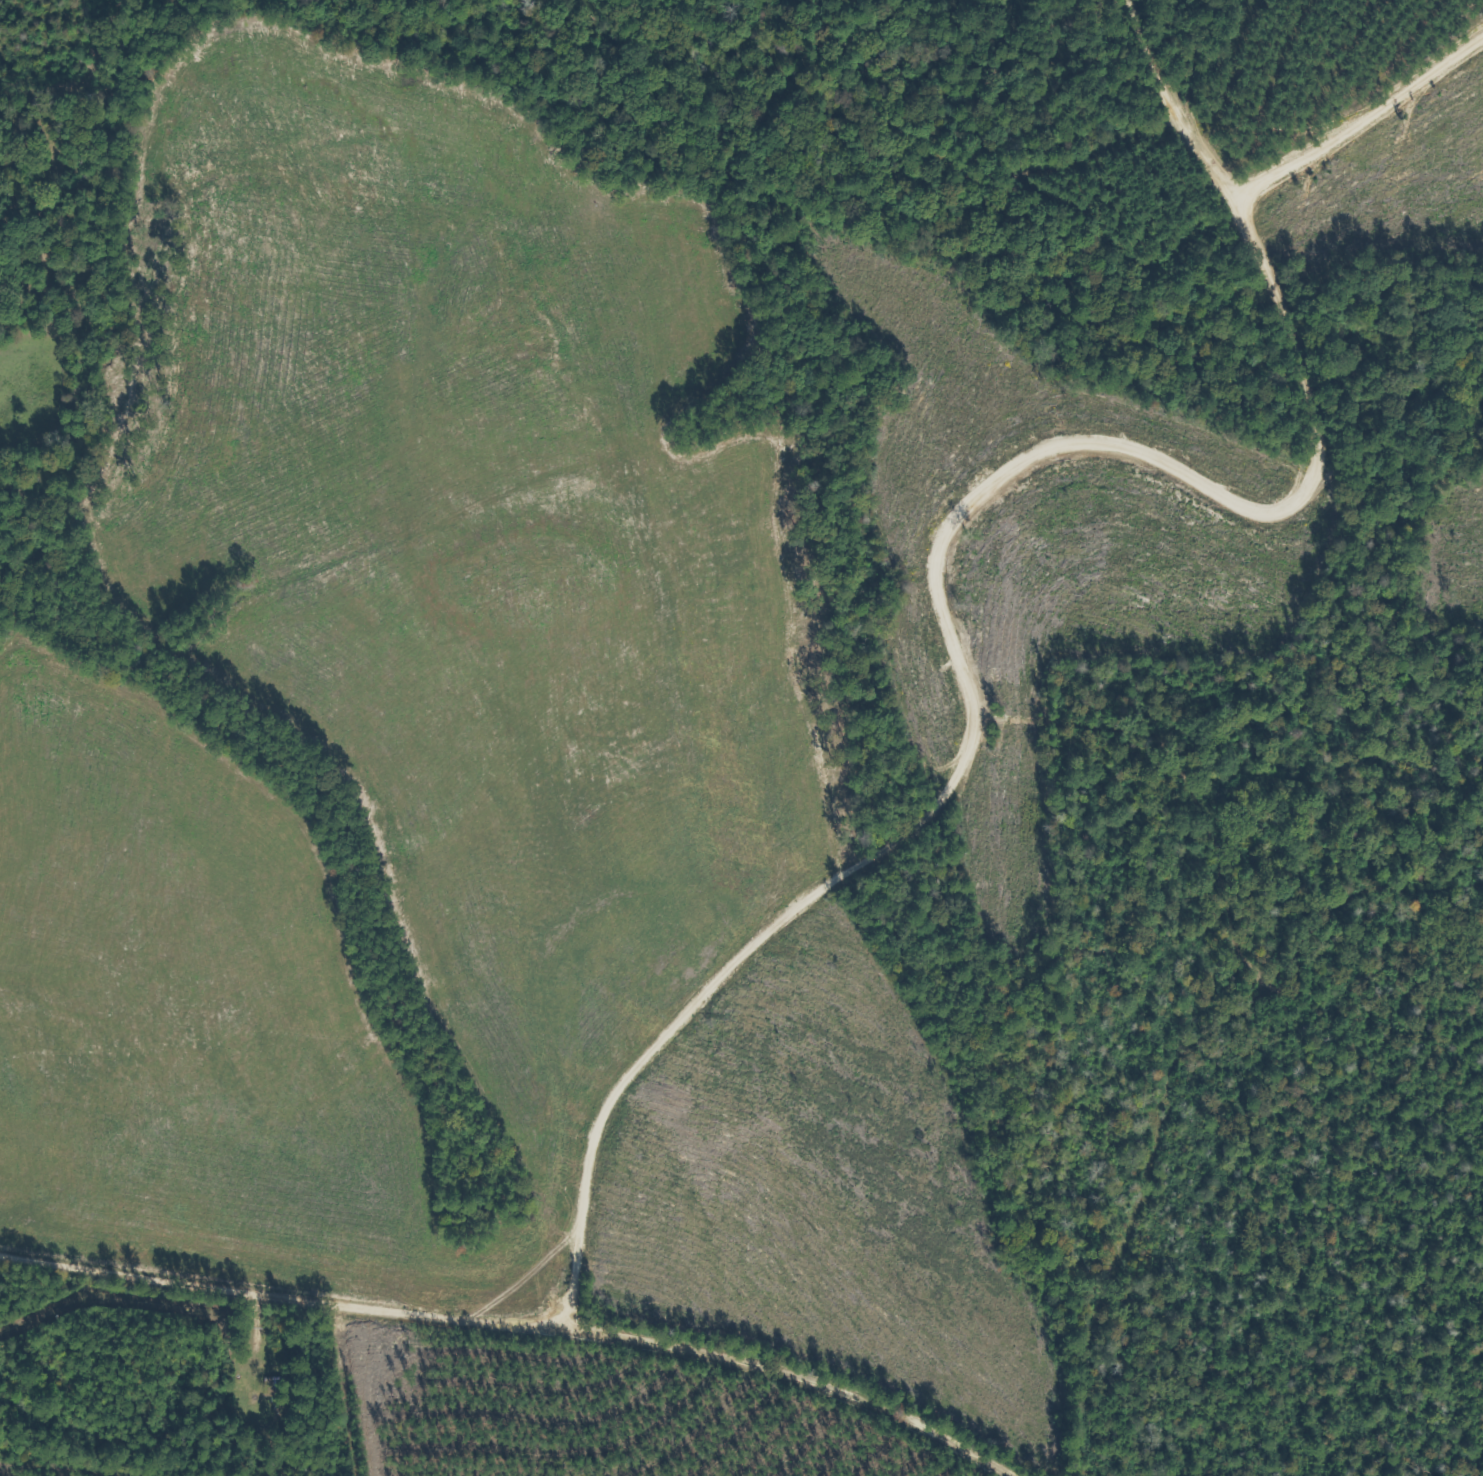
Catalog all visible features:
road: (1168, 109)
road: (941, 664)
road: (464, 1320)

